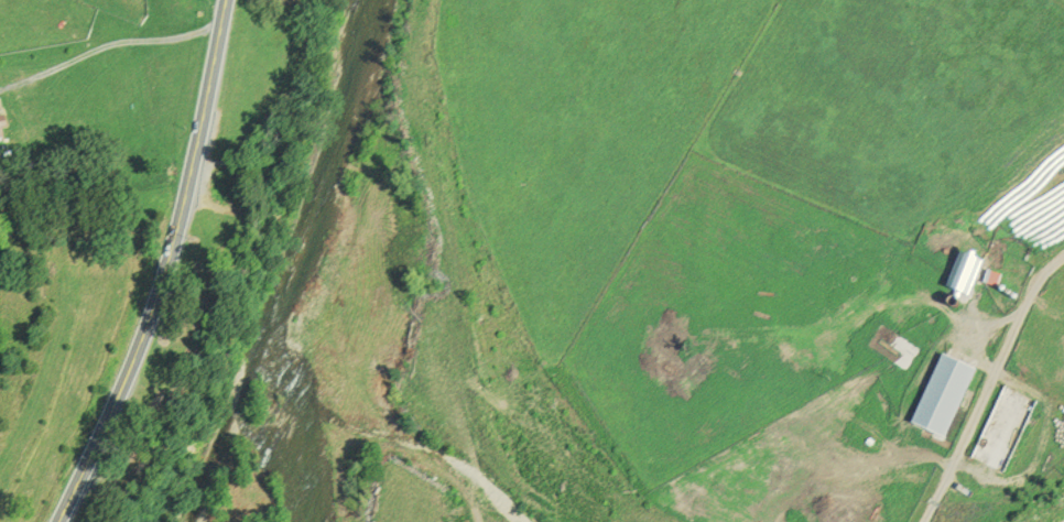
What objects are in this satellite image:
crop: (890, 101)
crop: (587, 124)
building: (2, 126)
river: (310, 268)
road: (171, 271)
building: (969, 274)
road: (989, 387)
building: (948, 396)

